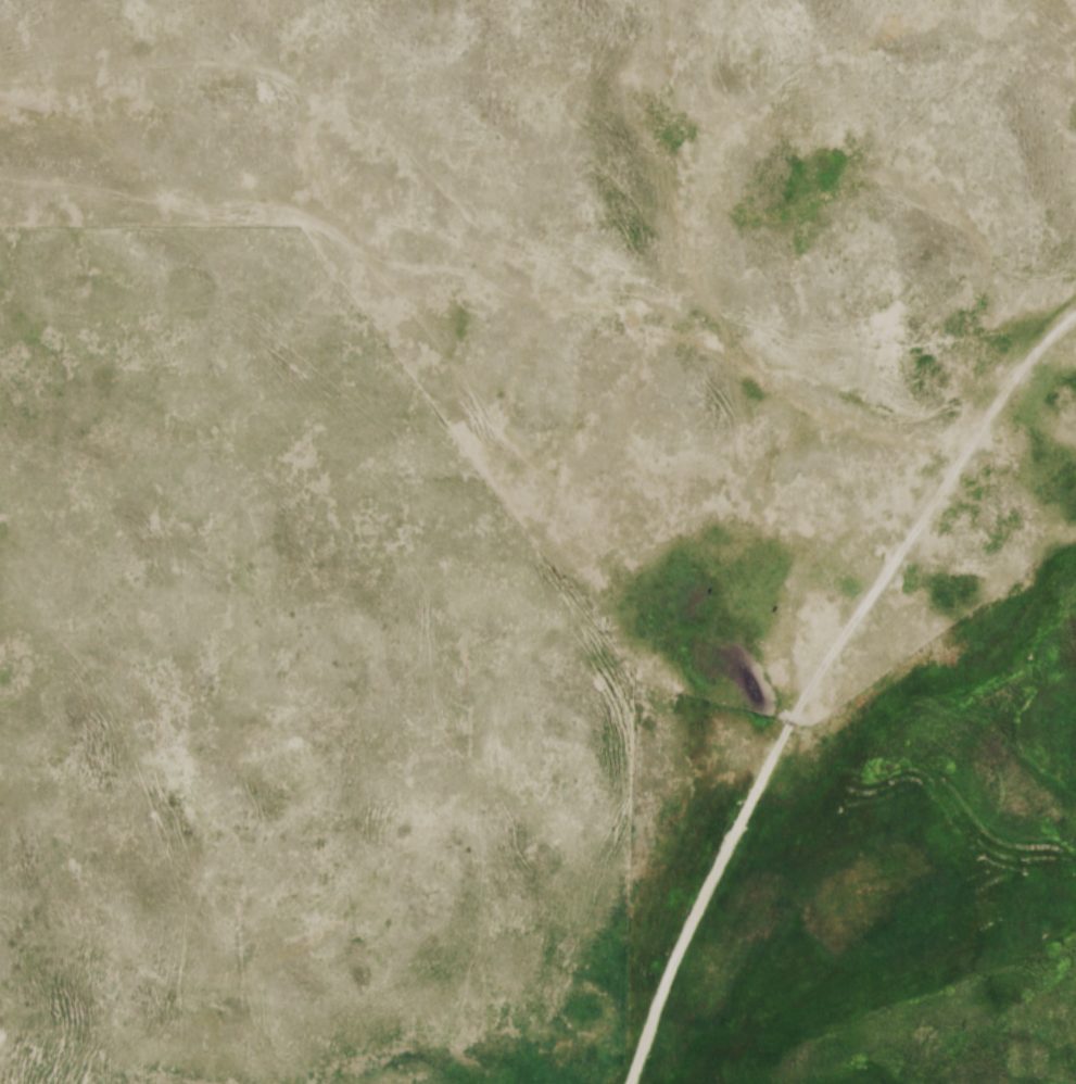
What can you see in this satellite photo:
road: (817, 685)

